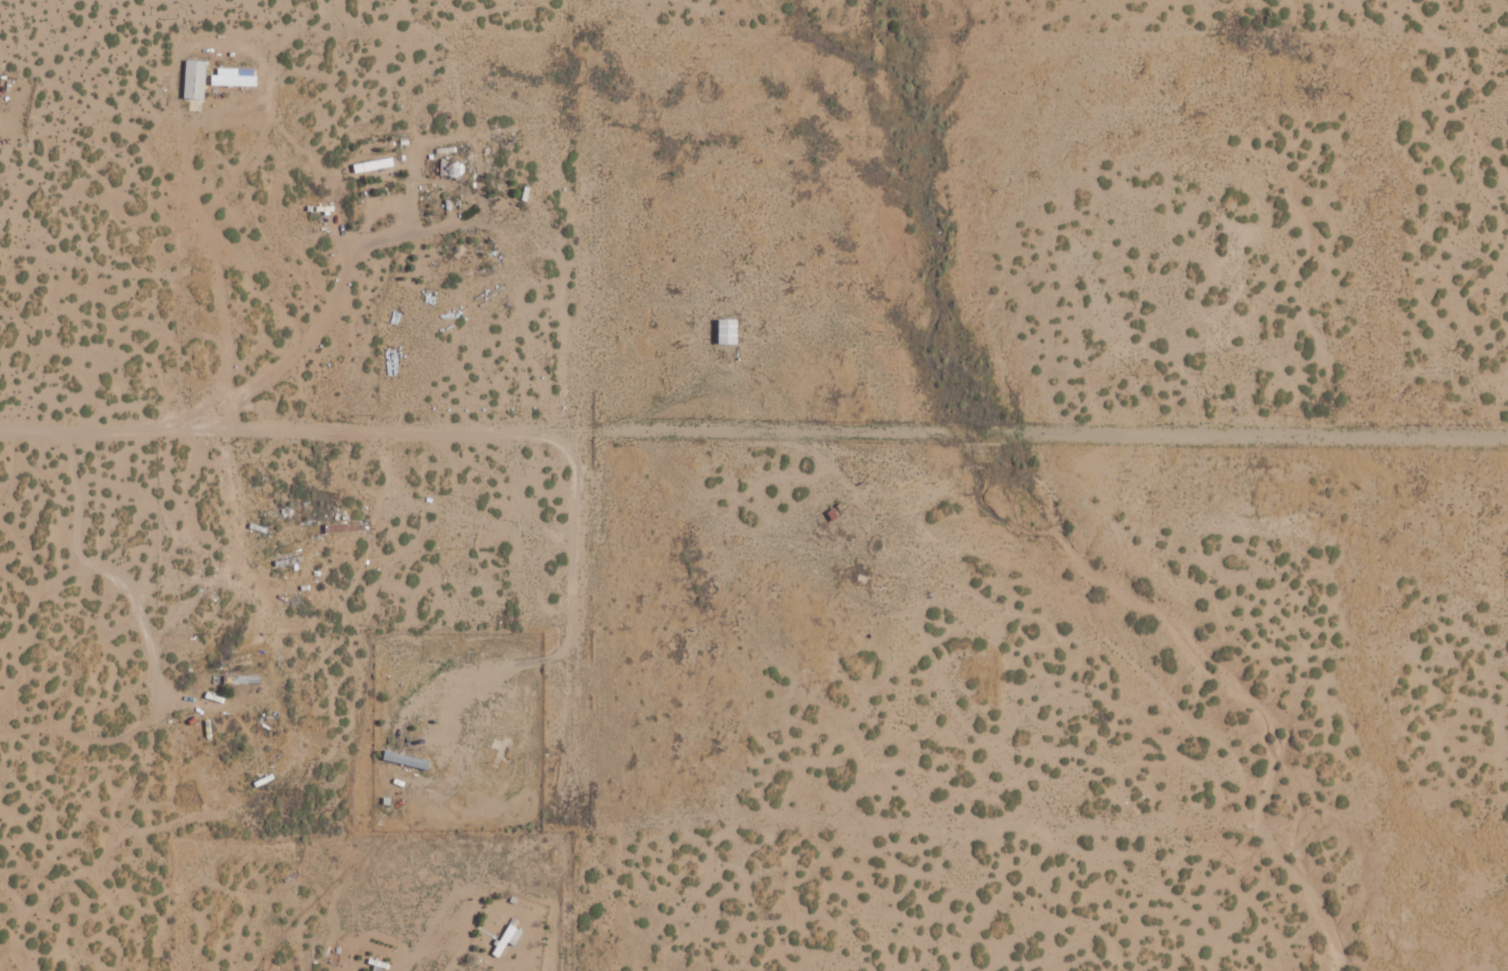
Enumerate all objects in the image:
building: (196, 79)
road: (884, 166)
building: (729, 332)
road: (296, 470)
road: (155, 687)
road: (316, 772)
building: (512, 933)
road: (435, 939)

